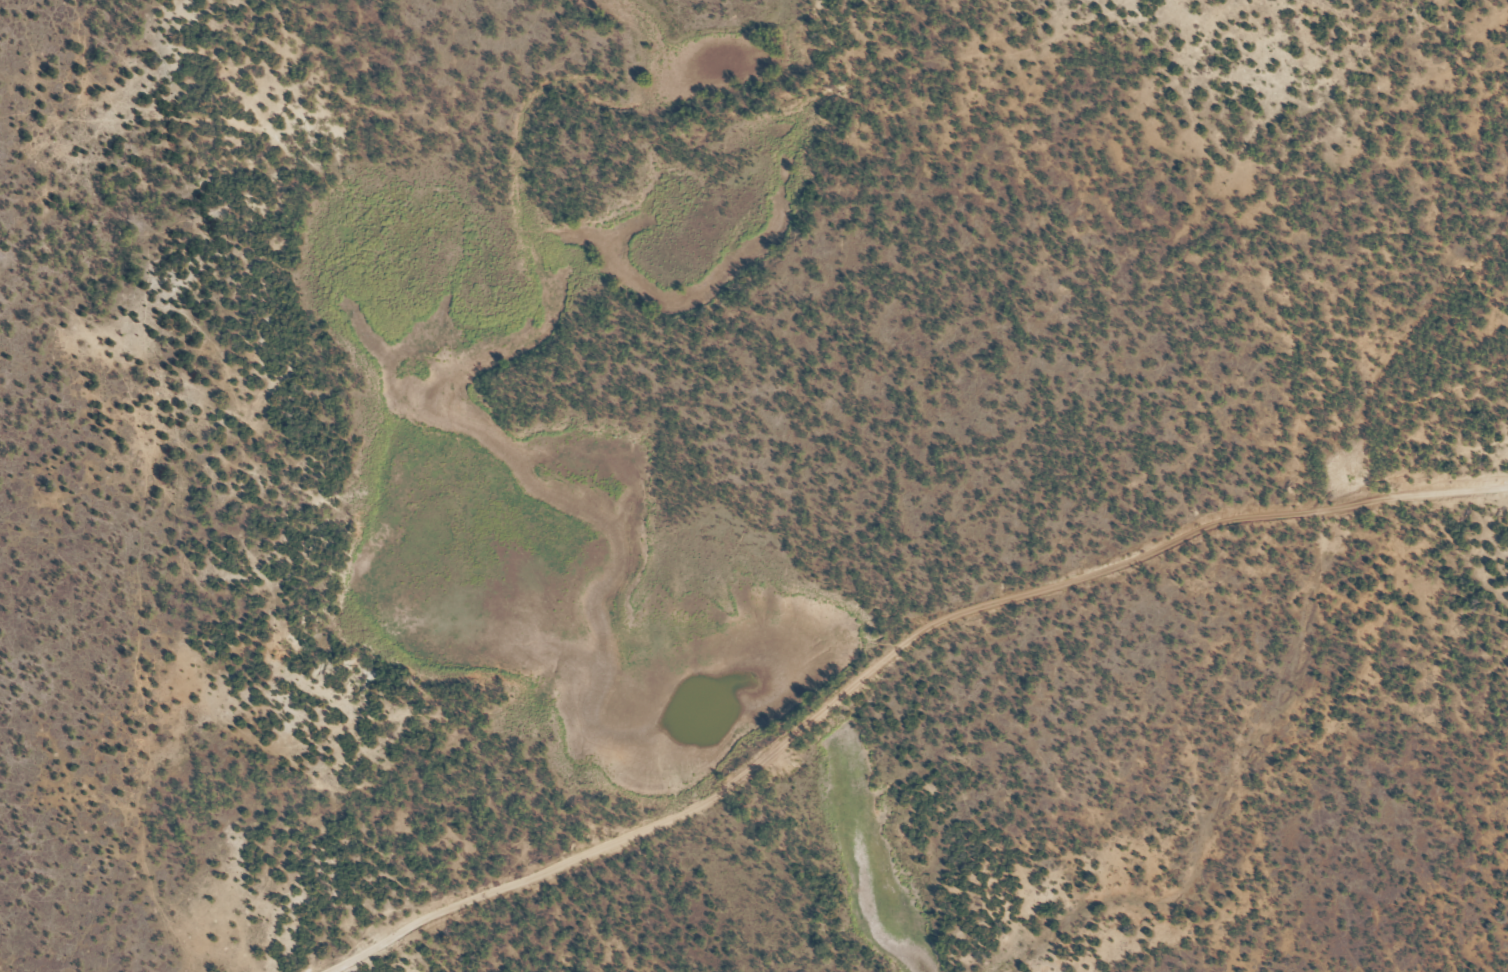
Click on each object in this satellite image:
road: (897, 675)

